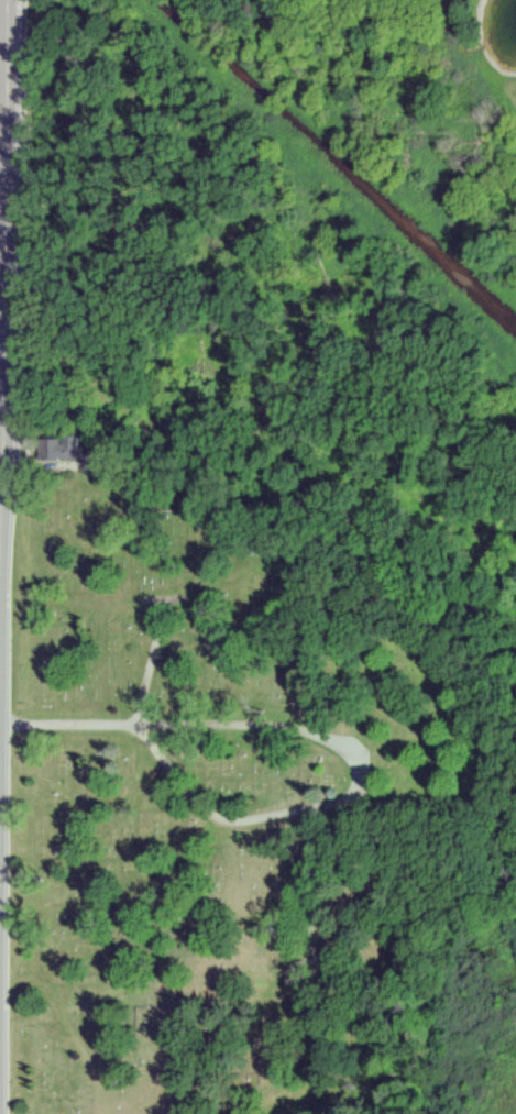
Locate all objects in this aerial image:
road: (4, 331)
building: (57, 448)
road: (1, 471)
road: (0, 605)
road: (152, 665)
road: (73, 723)
road: (349, 796)
park: (241, 798)

